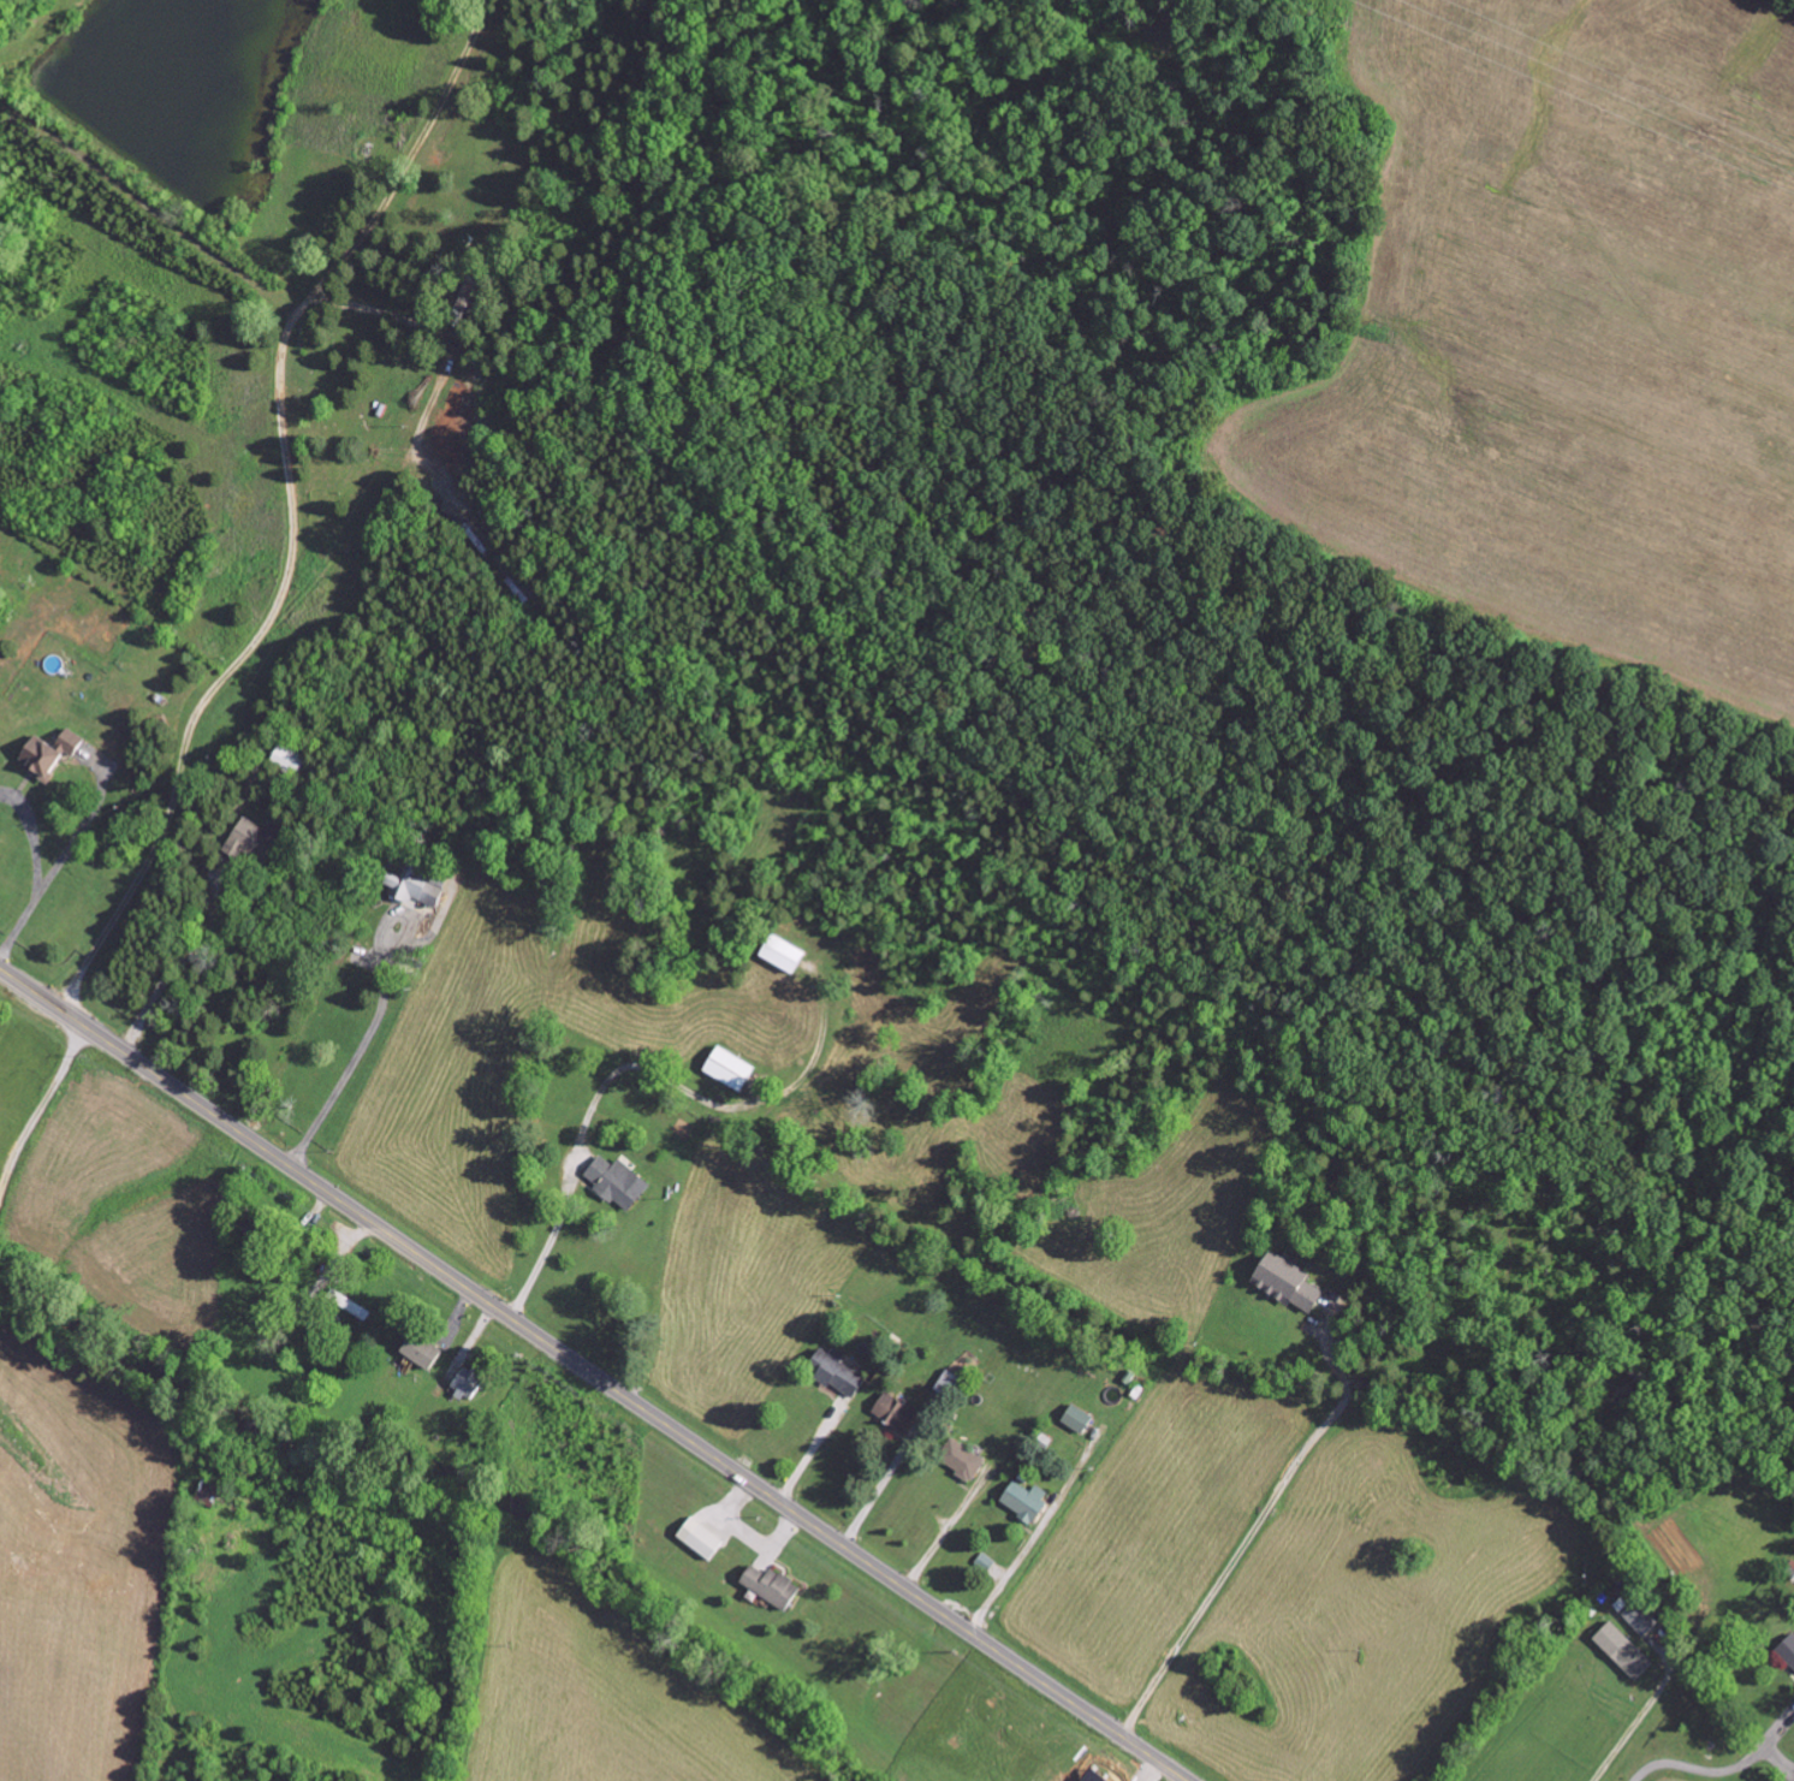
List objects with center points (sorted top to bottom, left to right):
road: (232, 665)
building: (48, 752)
road: (32, 832)
building: (251, 837)
road: (51, 879)
building: (406, 881)
building: (782, 951)
road: (623, 1067)
building: (727, 1067)
road: (38, 1108)
building: (616, 1180)
building: (1287, 1281)
building: (344, 1305)
building: (420, 1349)
building: (836, 1370)
road: (594, 1373)
building: (467, 1381)
building: (895, 1412)
building: (1076, 1417)
road: (812, 1450)
building: (961, 1458)
building: (209, 1488)
building: (1024, 1498)
road: (946, 1530)
road: (1253, 1531)
road: (1036, 1532)
building: (700, 1537)
building: (771, 1585)
building: (1641, 1616)
building: (1788, 1648)
building: (1623, 1649)
road: (1634, 1726)
road: (1723, 1768)

